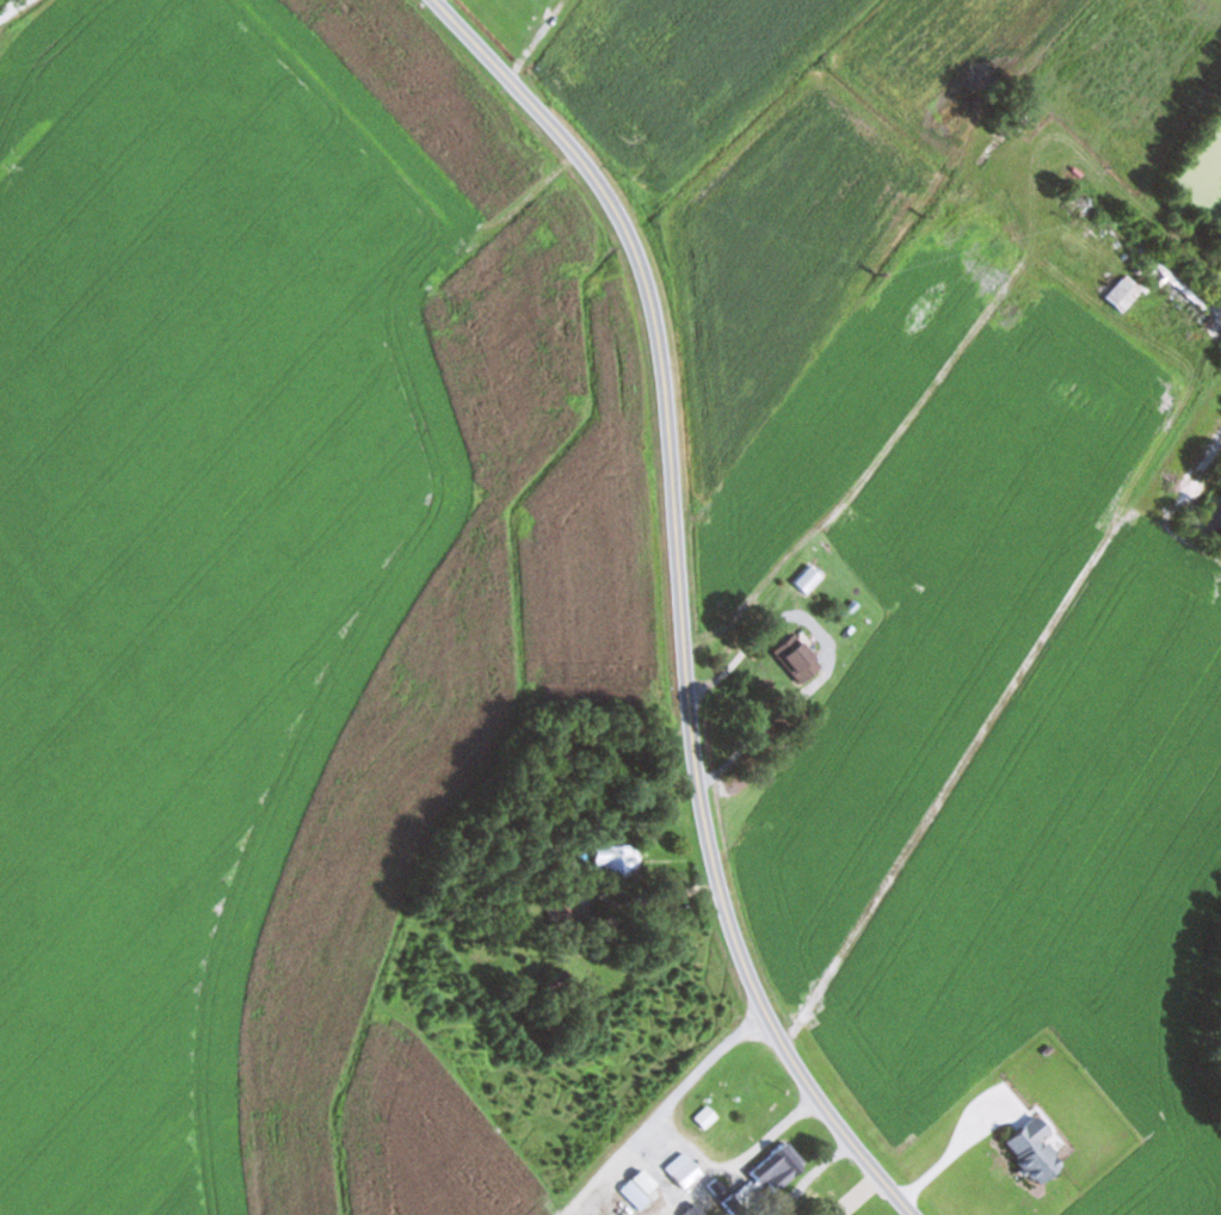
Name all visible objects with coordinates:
road: (13, 10)
building: (455, 272)
building: (1126, 292)
road: (822, 467)
building: (808, 579)
road: (680, 599)
building: (798, 659)
building: (617, 863)
road: (665, 1111)
building: (1036, 1151)
building: (781, 1167)
building: (685, 1170)
building: (631, 1184)
building: (622, 1207)

